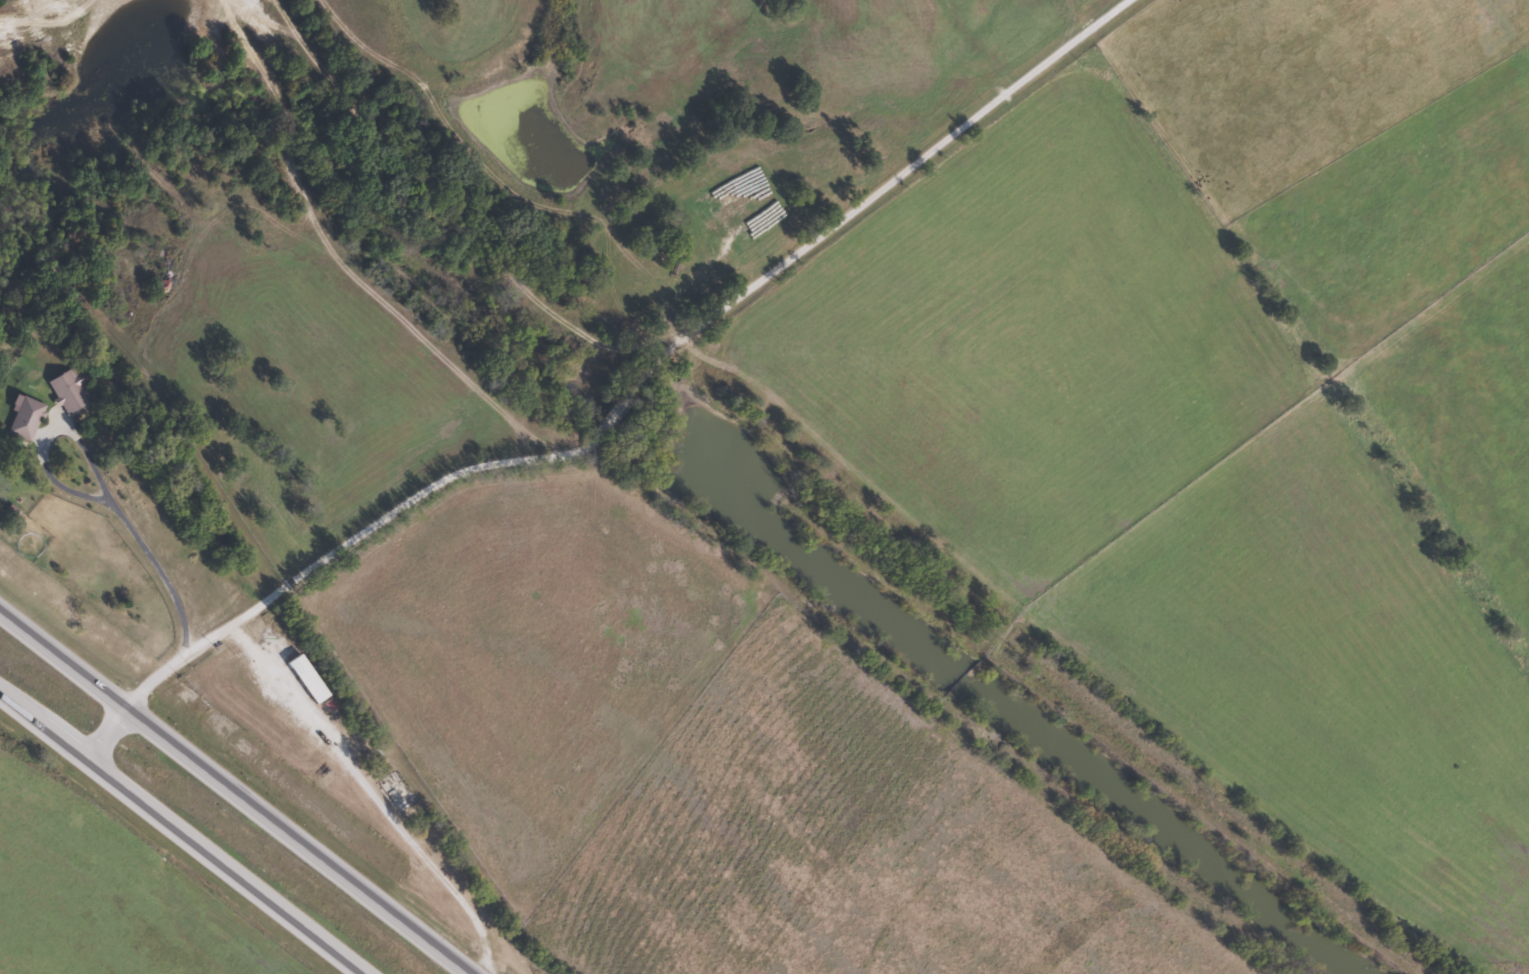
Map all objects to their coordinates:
road: (608, 365)
building: (69, 392)
building: (27, 416)
railway: (760, 511)
building: (308, 678)
road: (238, 790)
road: (187, 829)

